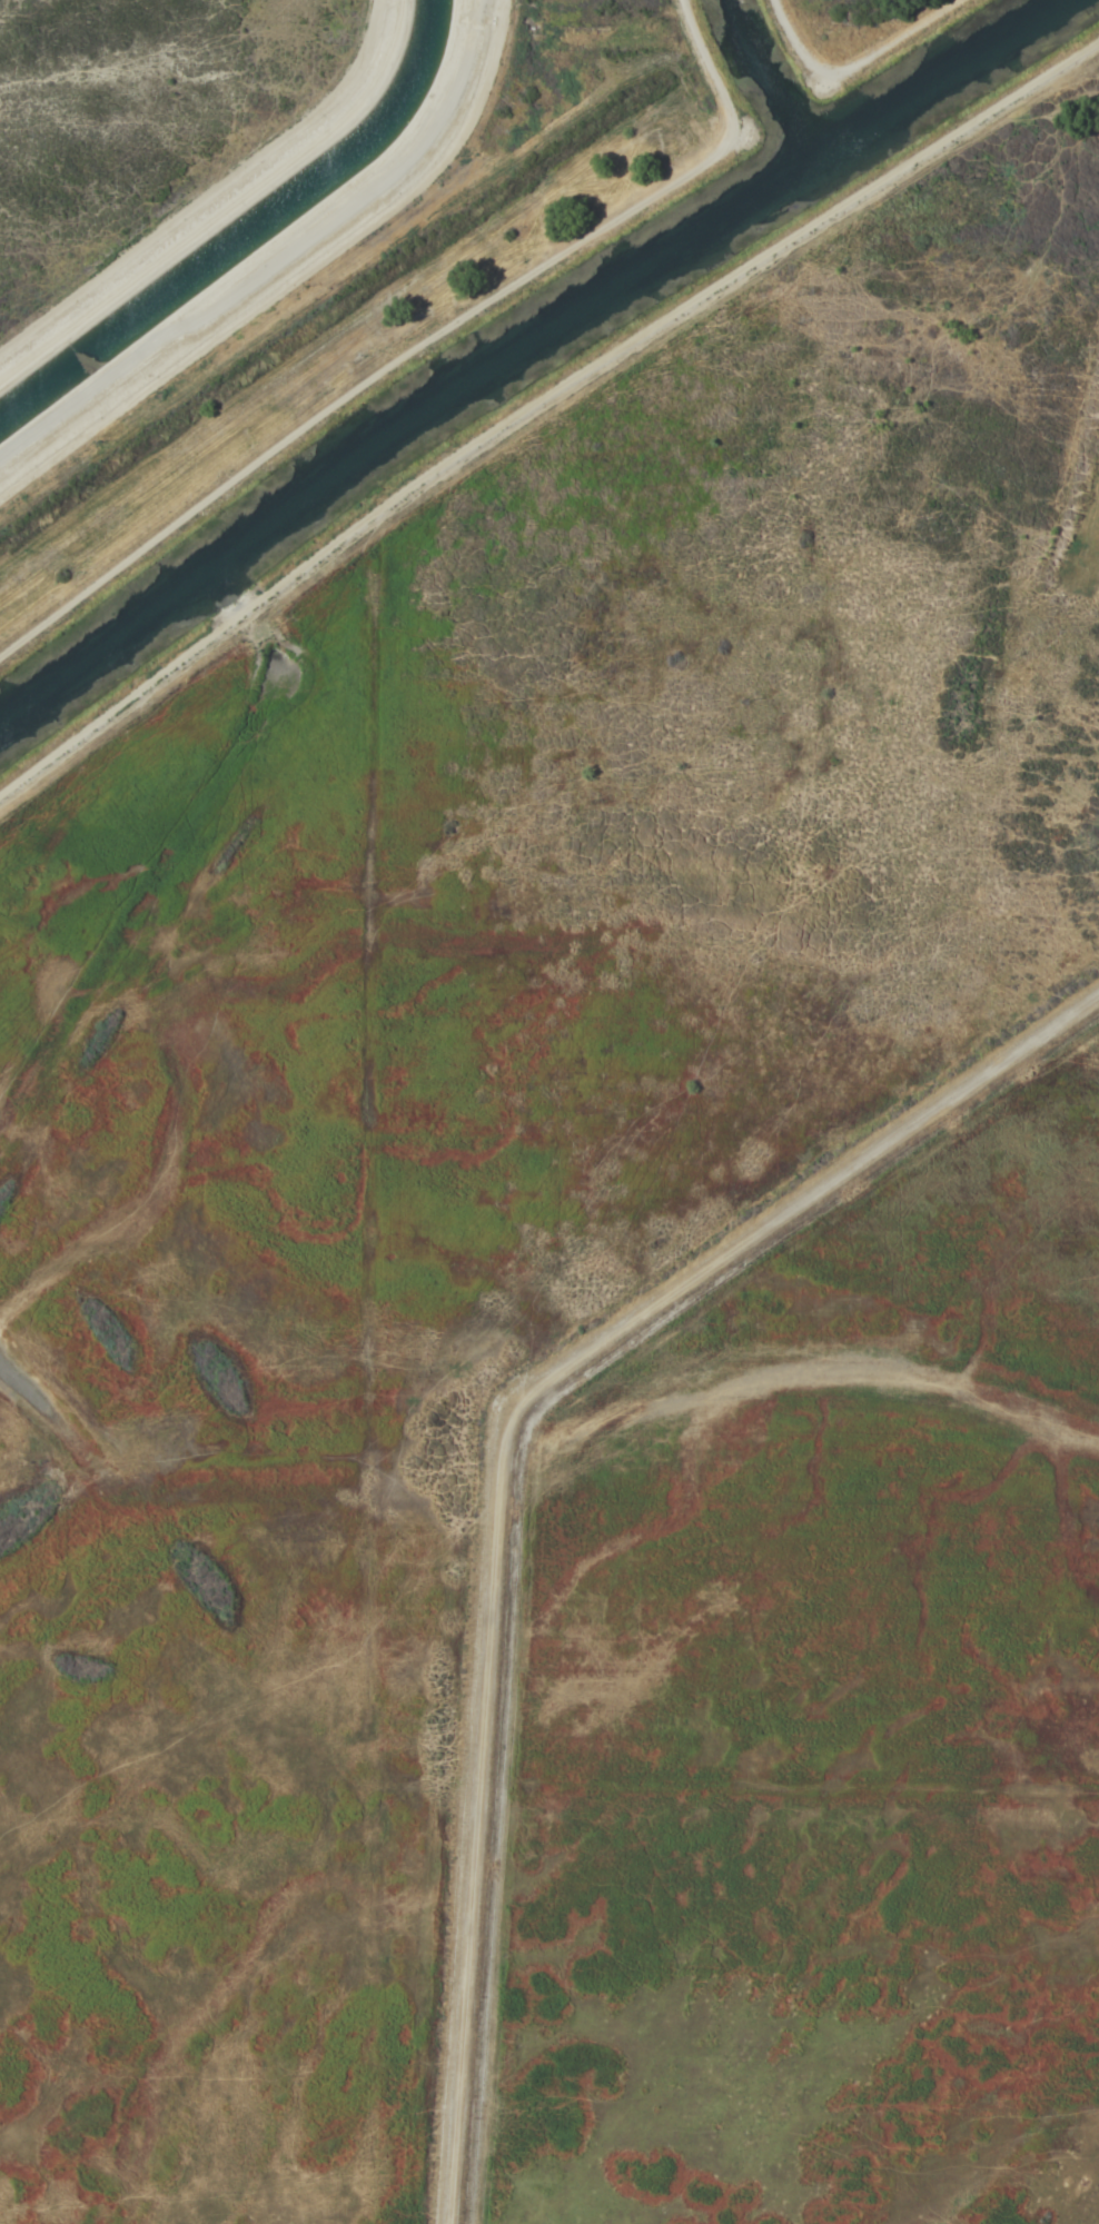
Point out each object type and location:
crop: (150, 122)

